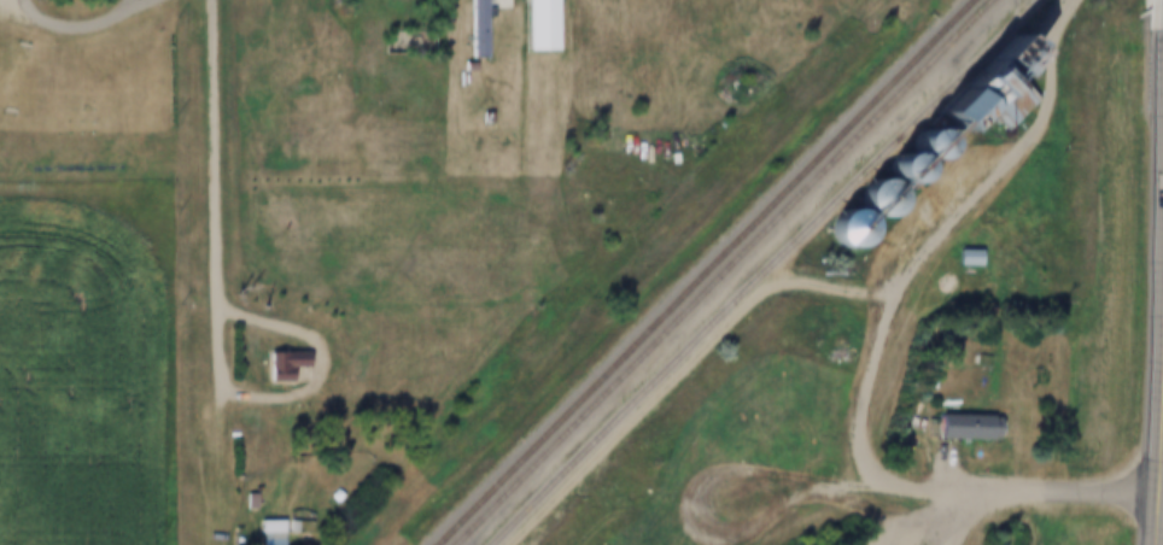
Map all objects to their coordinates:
road: (142, 4)
building: (547, 24)
building: (483, 28)
road: (77, 31)
road: (218, 154)
building: (975, 257)
railway: (720, 271)
railway: (762, 272)
railway: (700, 274)
road: (878, 351)
building: (291, 364)
road: (310, 387)
building: (976, 426)
road: (1159, 456)
road: (931, 516)
building: (276, 531)

